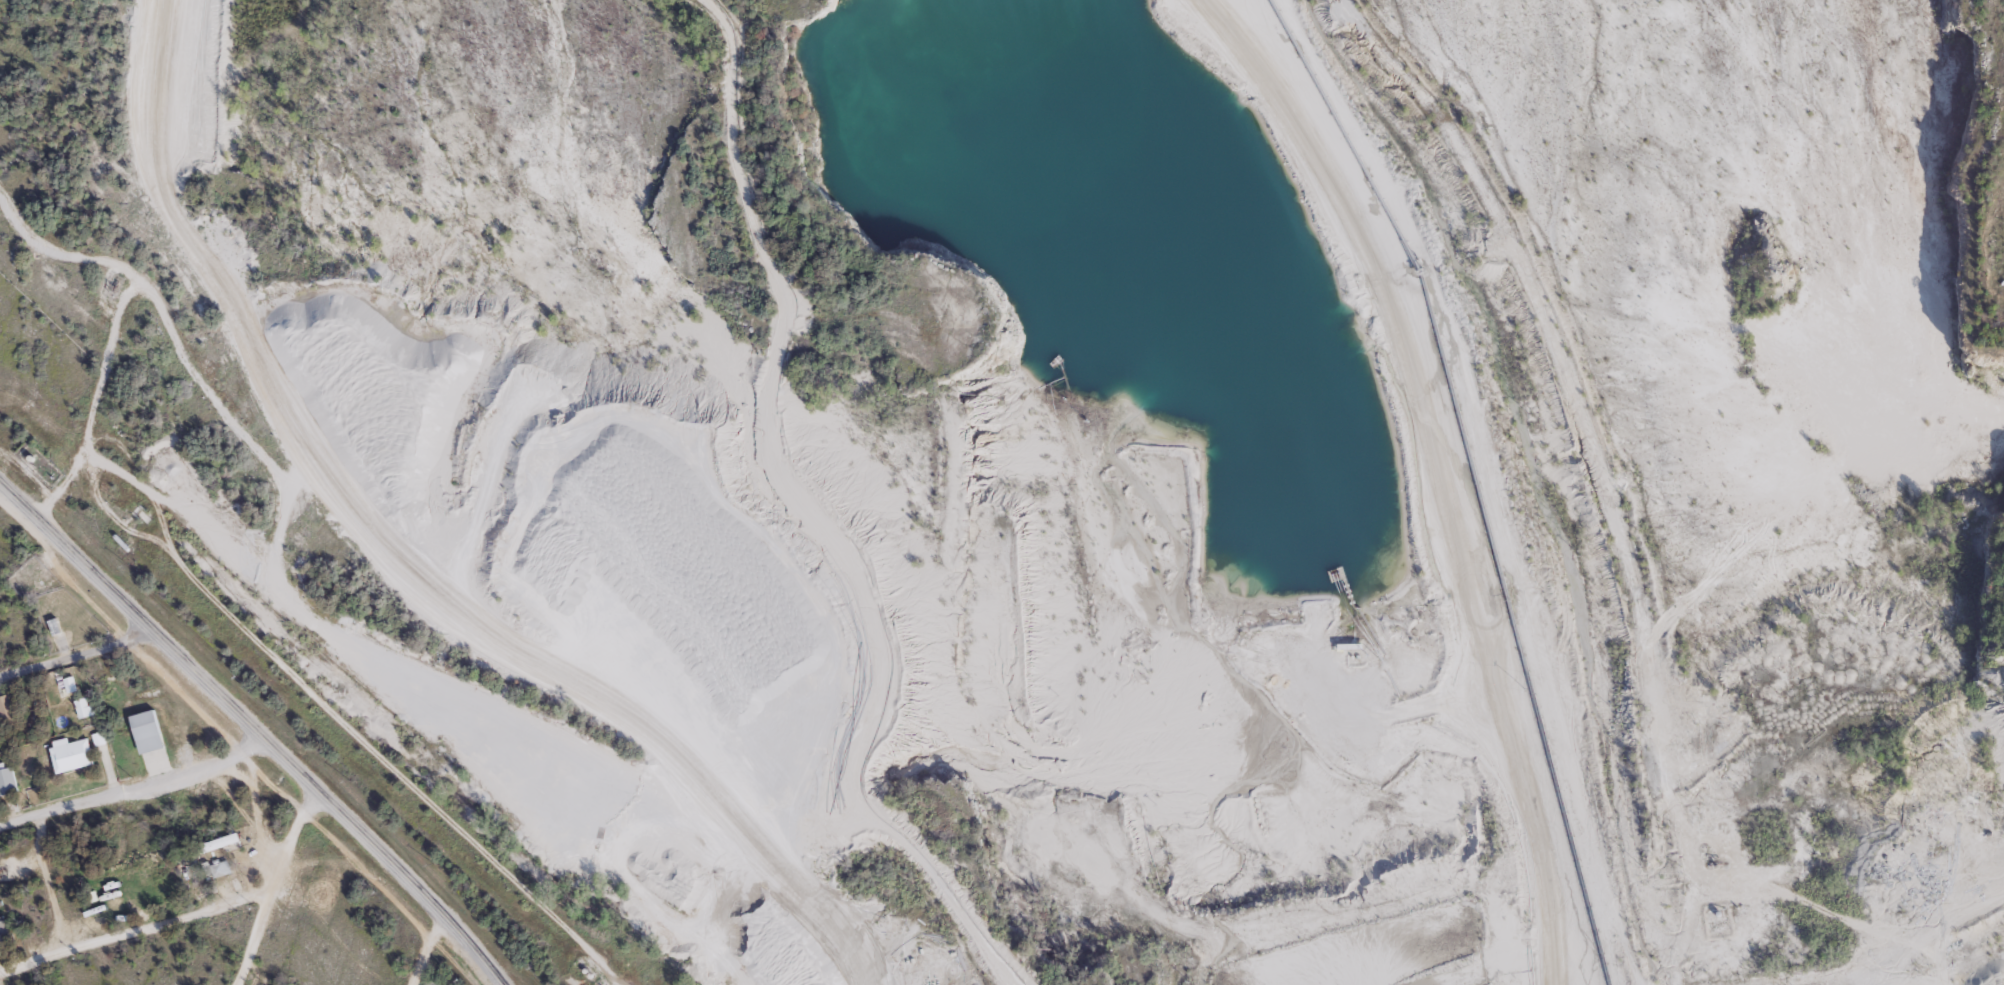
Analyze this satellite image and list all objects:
road: (196, 247)
road: (59, 252)
road: (1412, 474)
quarry: (737, 481)
road: (393, 565)
road: (75, 654)
building: (85, 706)
building: (7, 709)
road: (255, 729)
building: (148, 730)
building: (73, 754)
building: (6, 780)
road: (134, 790)
building: (192, 874)
road: (47, 884)
road: (271, 885)
road: (134, 930)
building: (6, 933)
road: (425, 950)
building: (434, 981)

